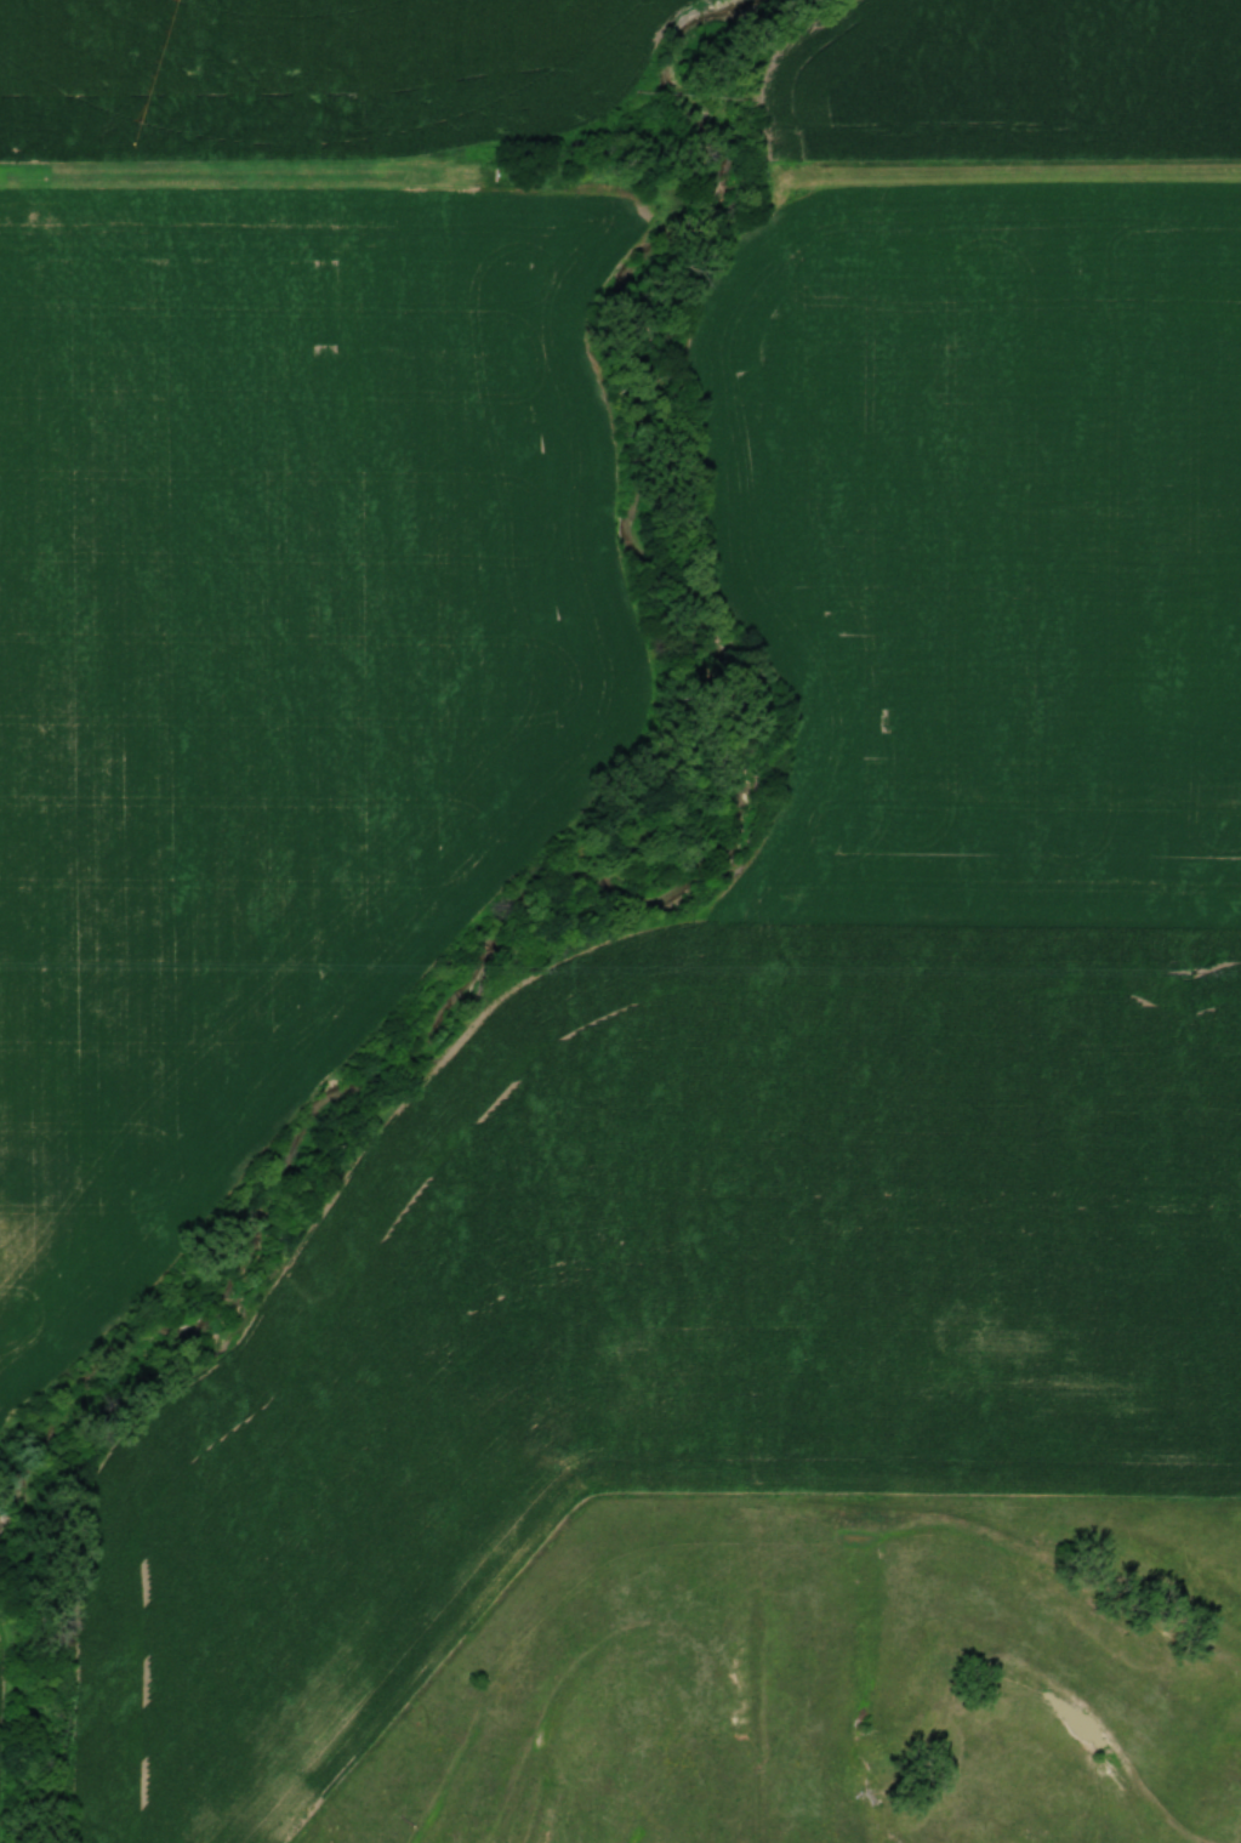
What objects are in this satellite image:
crop: (325, 64)
crop: (1011, 78)
crop: (264, 675)

